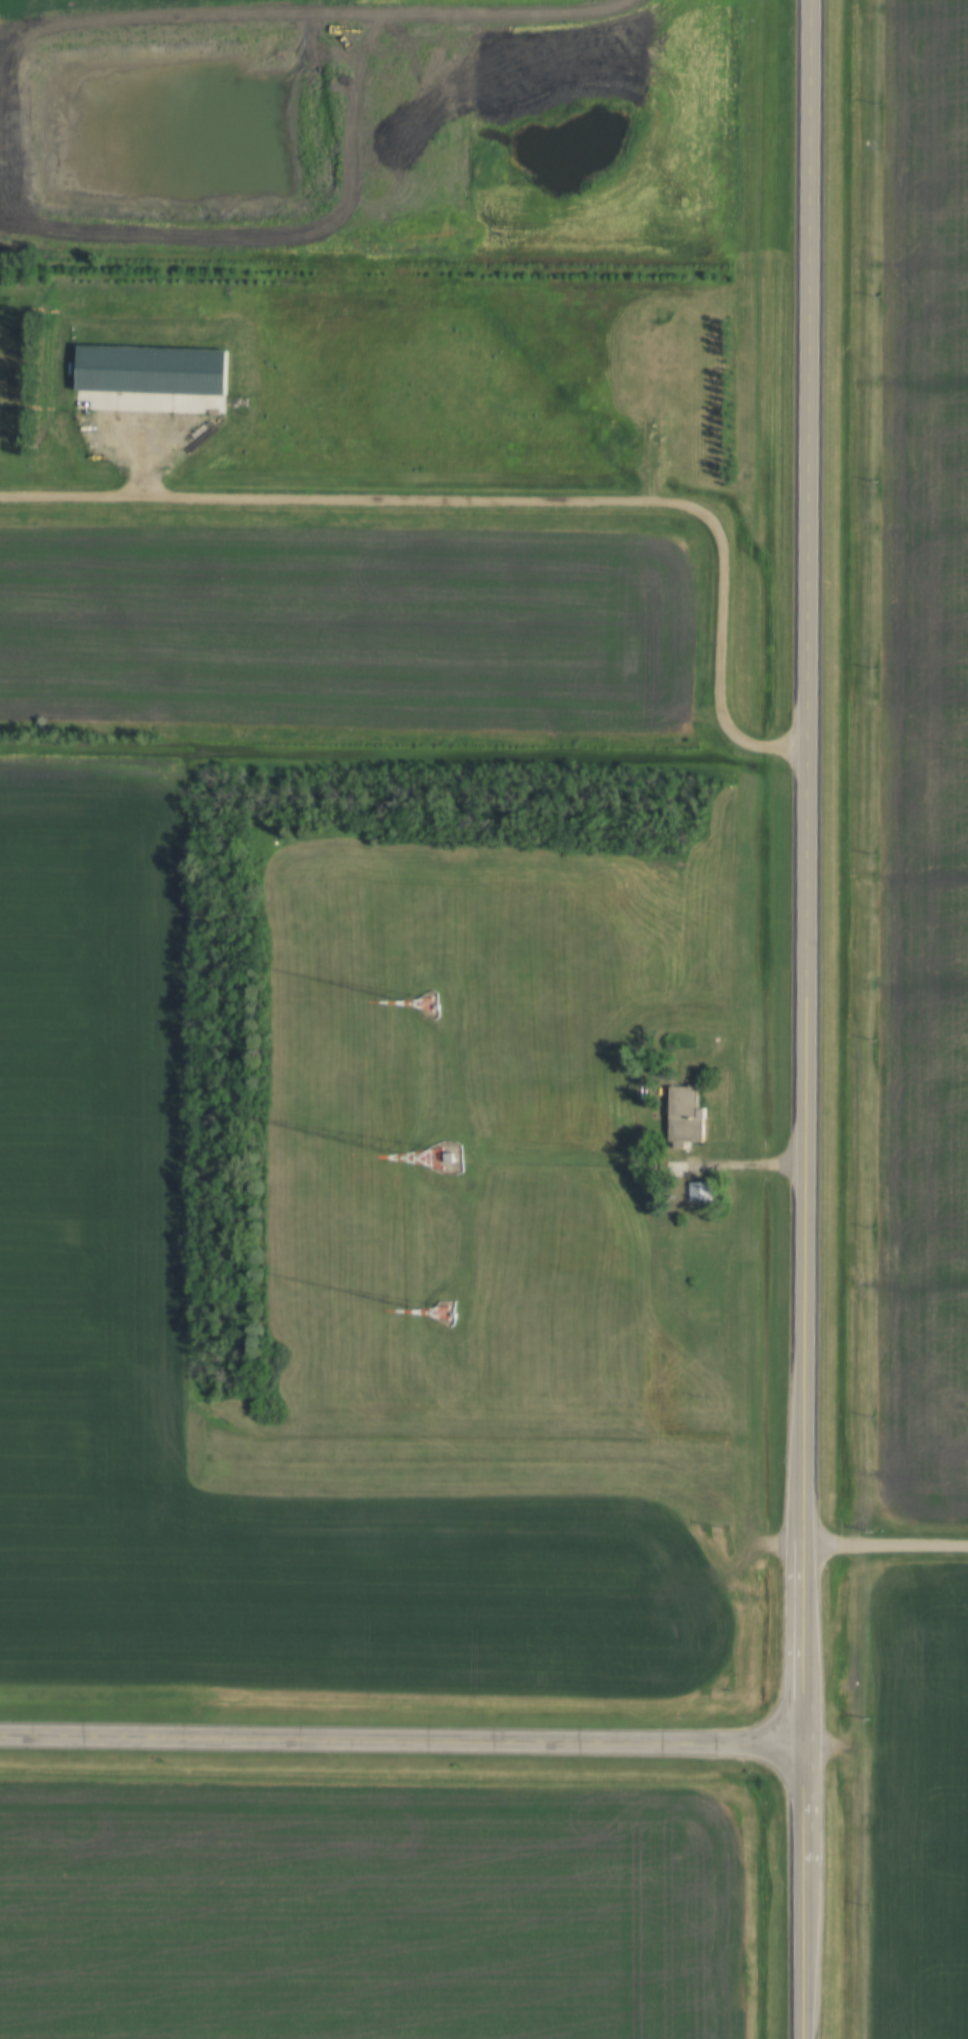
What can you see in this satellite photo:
road: (509, 503)
road: (806, 874)
road: (887, 1544)
road: (403, 1743)
road: (805, 1893)

